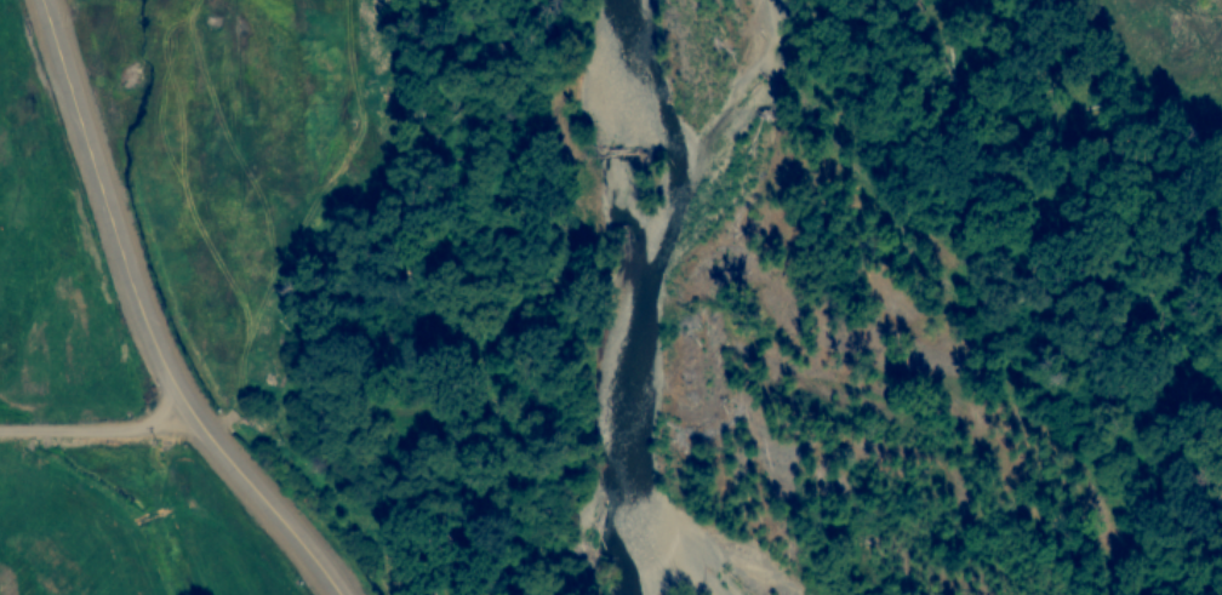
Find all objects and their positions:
river: (653, 308)
road: (144, 321)

